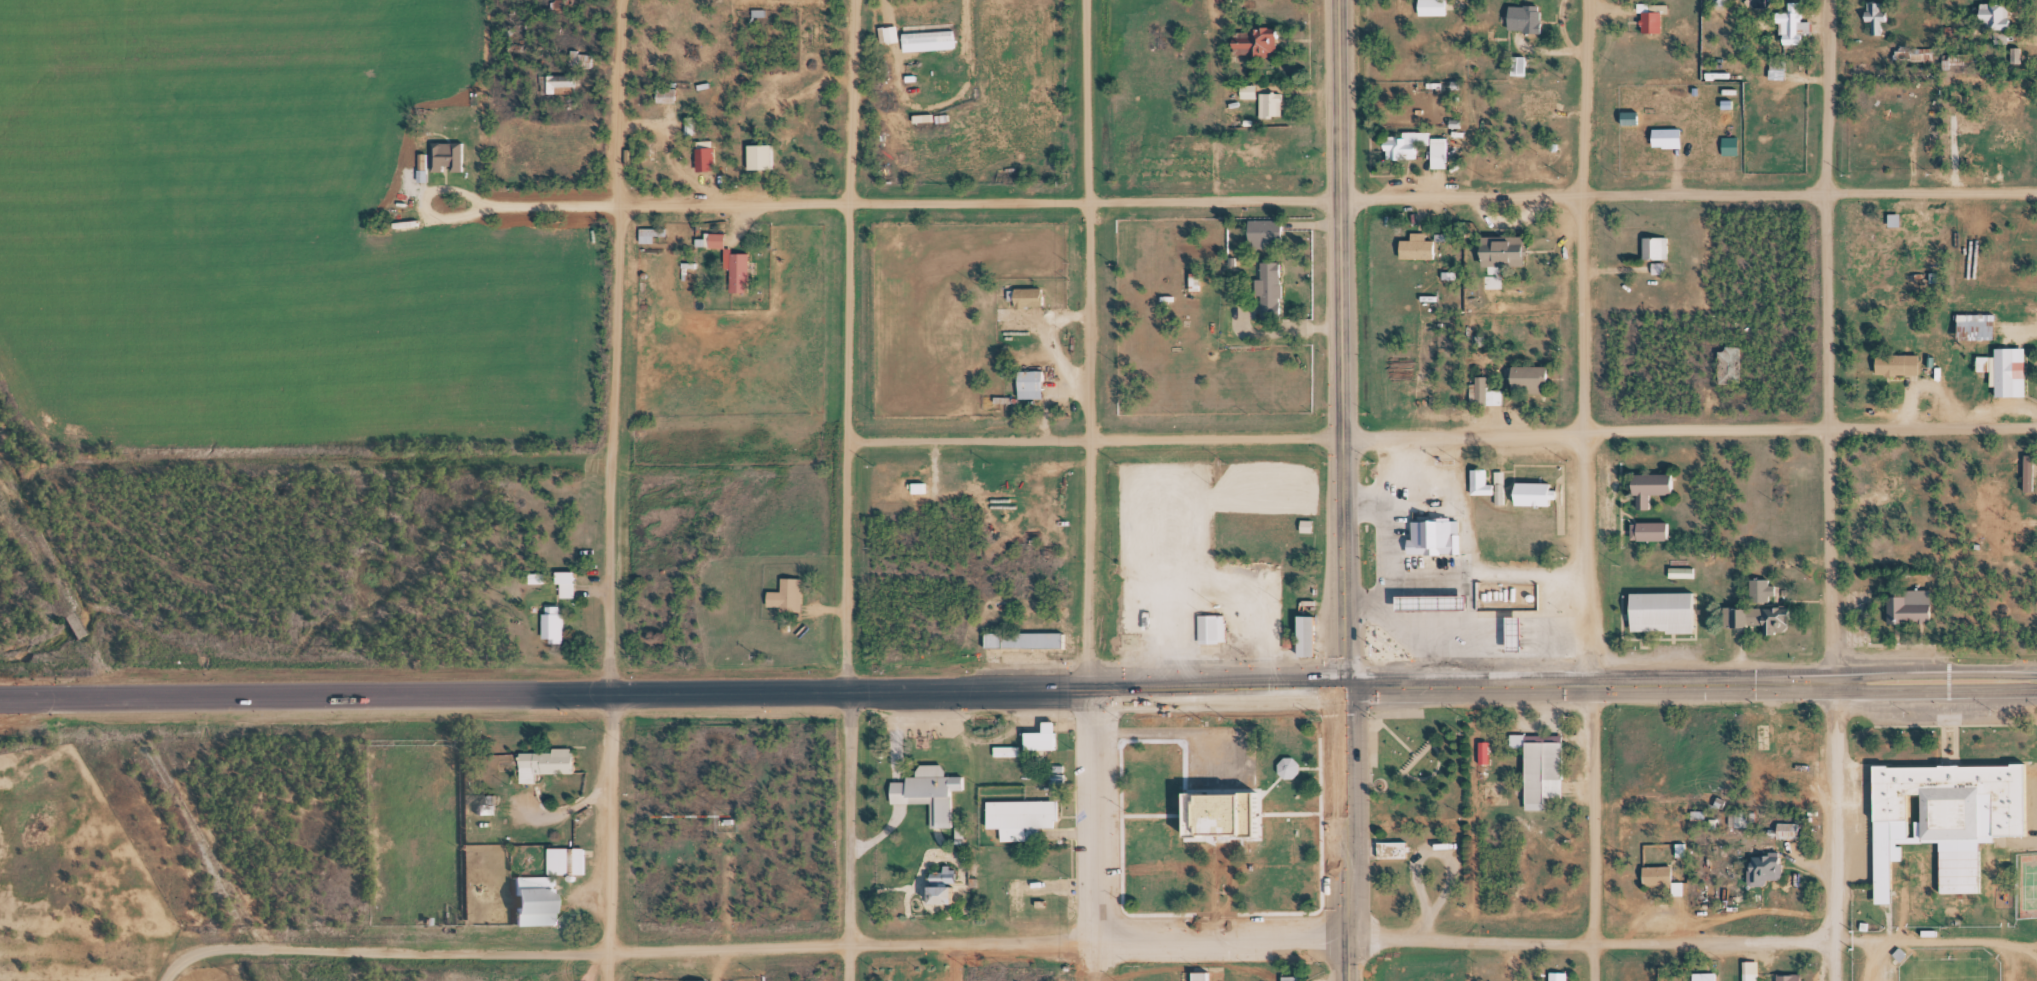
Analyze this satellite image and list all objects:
building: (1437, 6)
building: (1880, 13)
building: (1656, 14)
building: (1532, 16)
building: (1871, 16)
building: (2006, 20)
building: (1796, 22)
building: (892, 32)
building: (932, 36)
building: (1262, 38)
building: (2019, 52)
building: (1961, 56)
building: (578, 60)
building: (1523, 63)
building: (1513, 65)
building: (560, 79)
building: (1252, 88)
building: (670, 92)
building: (660, 93)
building: (1274, 103)
building: (1537, 103)
building: (1670, 133)
building: (2000, 138)
building: (1410, 140)
building: (1886, 144)
building: (1443, 151)
building: (1433, 152)
building: (708, 153)
building: (1271, 153)
building: (764, 154)
building: (451, 155)
road: (1688, 195)
road: (978, 202)
road: (555, 204)
building: (1270, 228)
road: (616, 233)
building: (653, 233)
building: (714, 233)
building: (1881, 238)
building: (1421, 245)
building: (1510, 247)
building: (1661, 252)
building: (743, 267)
building: (732, 272)
building: (1275, 287)
building: (1023, 298)
building: (1981, 322)
road: (1824, 342)
road: (1580, 343)
road: (1087, 344)
road: (1338, 344)
road: (843, 345)
building: (1900, 360)
building: (1735, 362)
building: (2009, 366)
building: (1535, 377)
building: (1036, 382)
building: (1489, 390)
road: (1687, 434)
road: (1090, 437)
building: (2031, 467)
building: (1892, 474)
building: (2024, 474)
building: (1484, 481)
building: (1475, 484)
building: (1655, 484)
building: (922, 485)
building: (1879, 485)
building: (1776, 487)
building: (1539, 489)
building: (2012, 525)
building: (1655, 528)
building: (2004, 530)
building: (1435, 534)
building: (570, 580)
road: (608, 580)
building: (560, 585)
building: (1435, 599)
gas station: (1435, 599)
building: (793, 600)
building: (1913, 604)
building: (1768, 606)
building: (1670, 608)
building: (557, 624)
building: (1215, 627)
building: (1517, 628)
building: (1548, 630)
building: (1314, 631)
building: (1029, 637)
building: (1301, 637)
building: (1482, 641)
road: (1690, 686)
road: (671, 693)
building: (1047, 733)
building: (1794, 735)
building: (1036, 739)
building: (1010, 749)
railway: (134, 752)
building: (553, 760)
building: (1784, 764)
park: (1418, 768)
building: (1548, 769)
building: (933, 793)
building: (1952, 804)
building: (1230, 806)
building: (1703, 813)
building: (1026, 816)
building: (1746, 817)
building: (1794, 828)
building: (1783, 831)
road: (1831, 832)
road: (1589, 833)
road: (1092, 834)
road: (1345, 834)
road: (851, 836)
road: (606, 837)
building: (1398, 846)
building: (1684, 846)
building: (569, 859)
building: (1770, 860)
building: (1653, 877)
park: (2026, 883)
building: (946, 886)
building: (541, 901)
road: (1589, 943)
road: (761, 947)
park: (1945, 969)
building: (1754, 970)
road: (175, 972)
building: (1205, 975)
building: (1562, 975)
building: (1710, 975)
building: (1196, 976)
building: (1552, 976)
building: (1792, 976)
building: (1297, 977)
building: (1697, 977)
building: (807, 979)

